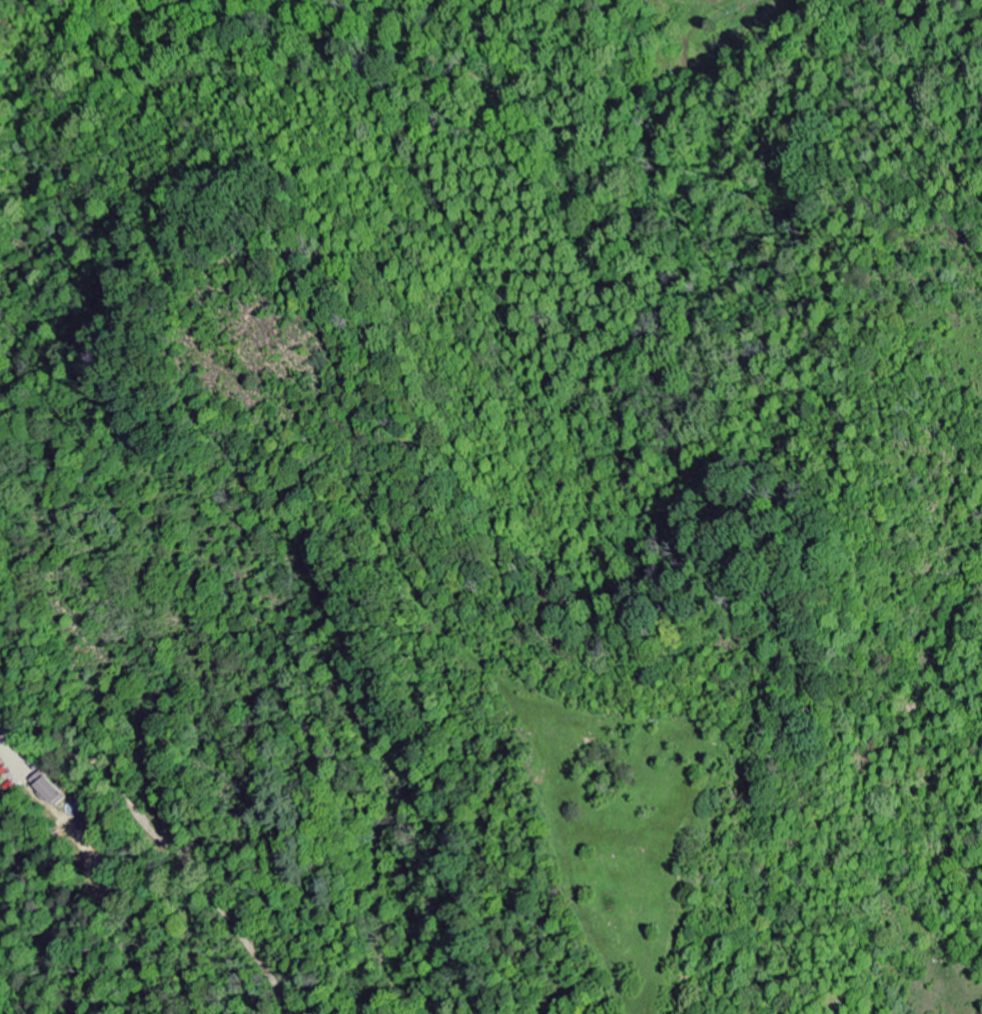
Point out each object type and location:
building: (51, 789)

